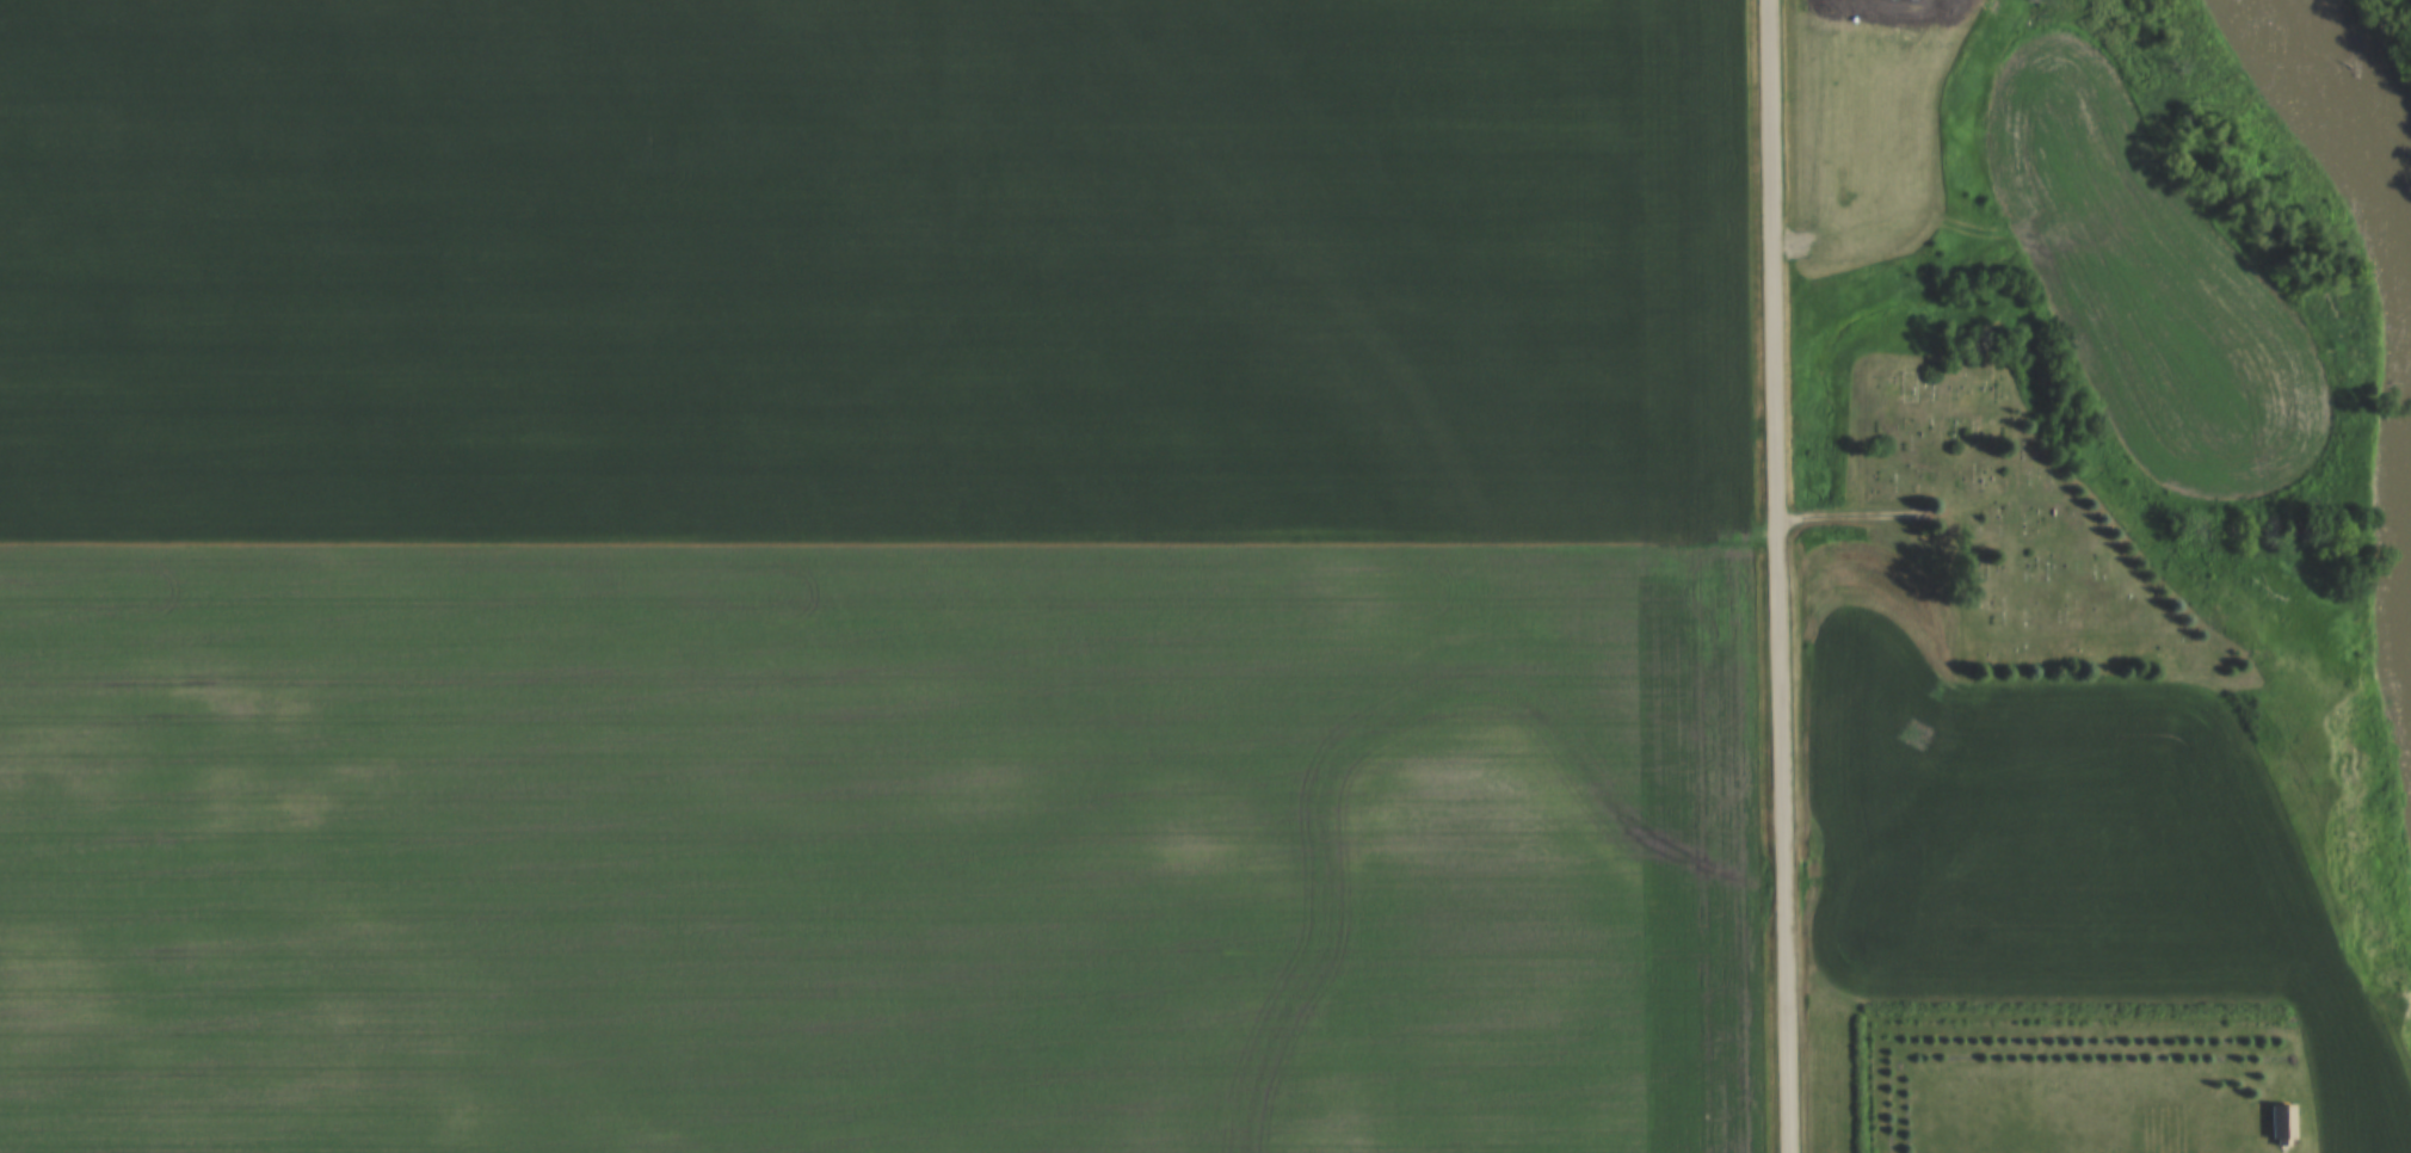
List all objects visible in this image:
river: (2318, 127)
road: (1777, 576)
building: (2280, 1122)

